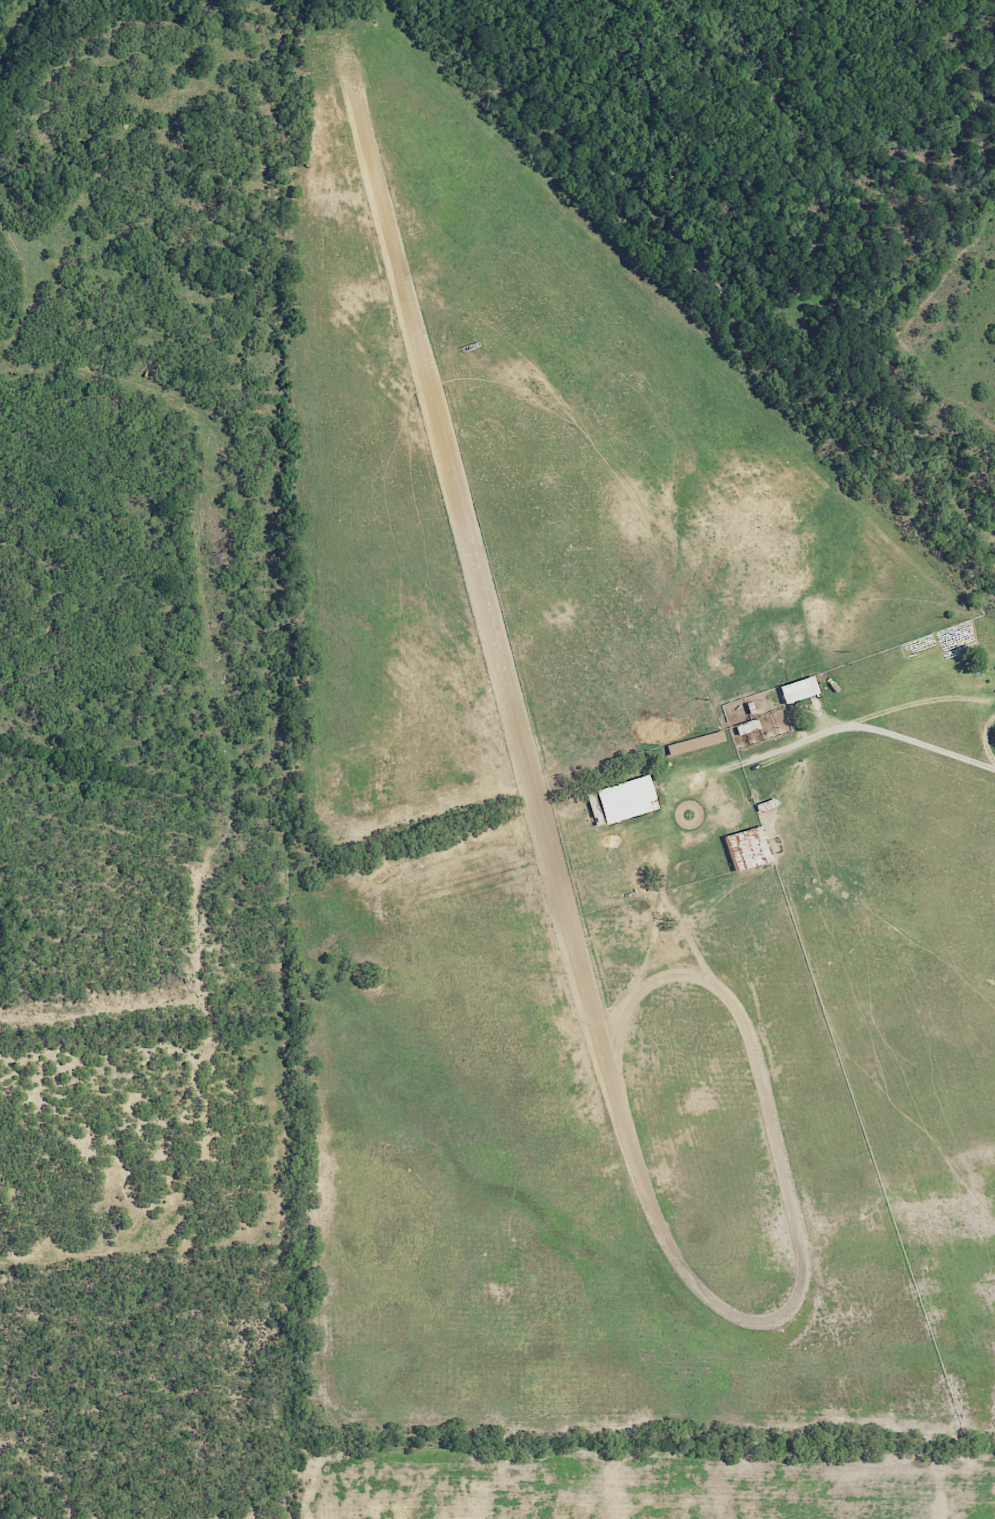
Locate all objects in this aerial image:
building: (799, 689)
road: (920, 703)
building: (748, 726)
road: (872, 729)
road: (988, 738)
building: (627, 799)
building: (749, 848)

